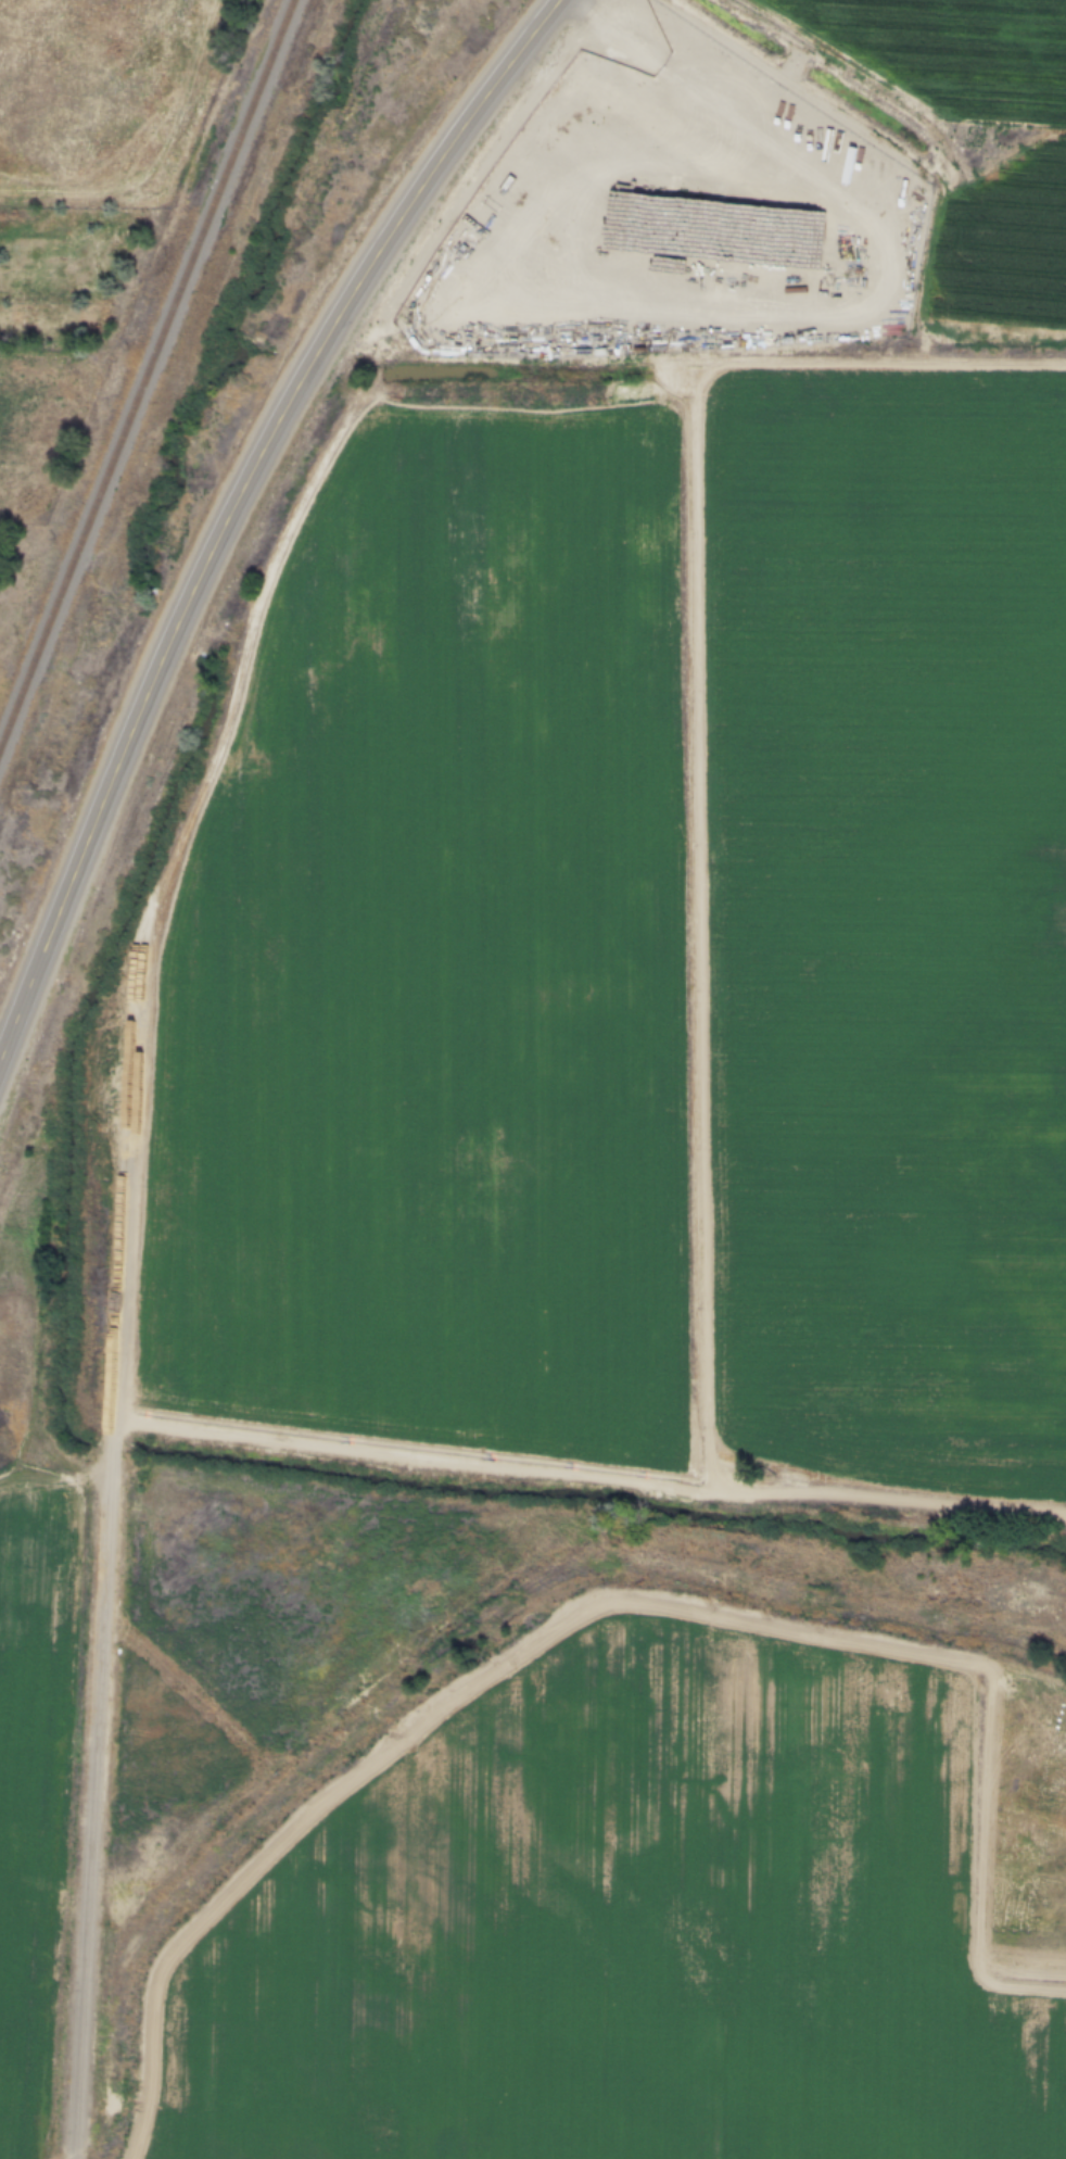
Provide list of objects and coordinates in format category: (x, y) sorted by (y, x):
railway: (144, 370)
road: (234, 503)
road: (110, 1615)

